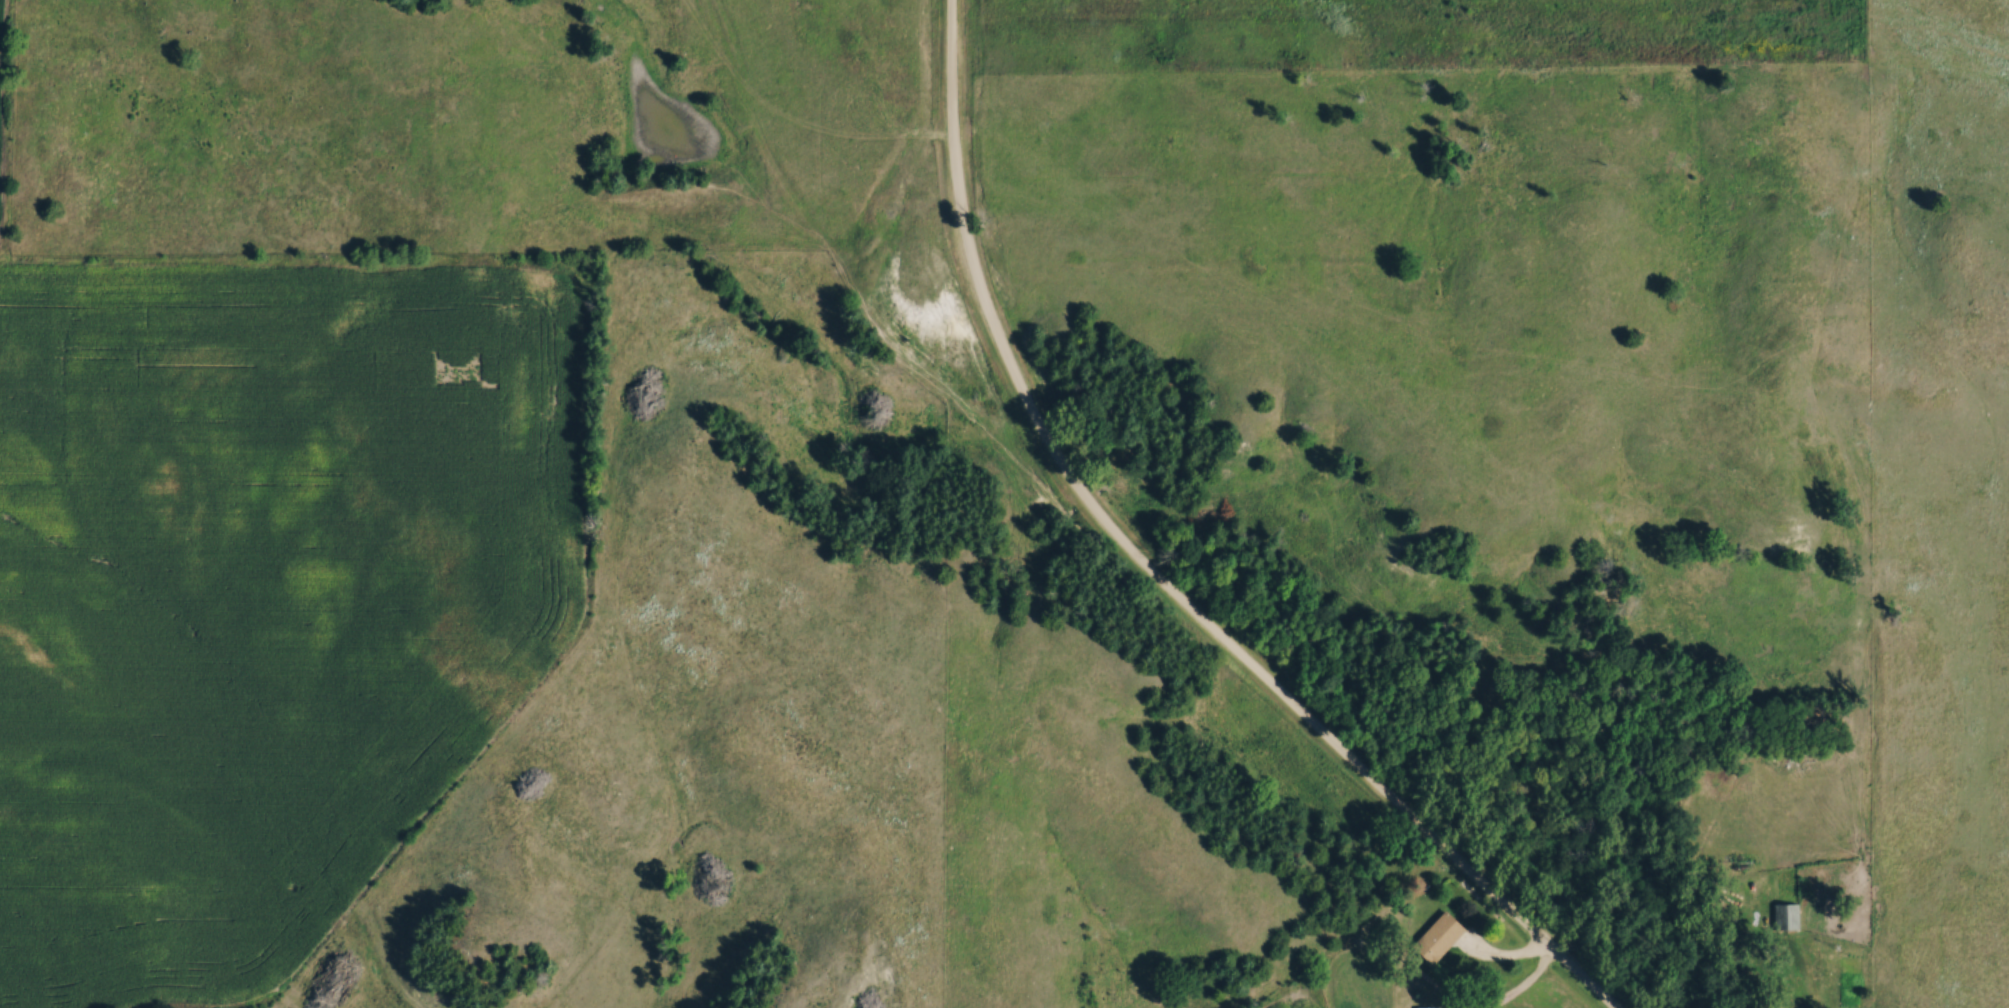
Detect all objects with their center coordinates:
road: (1152, 575)
building: (1788, 913)
building: (1437, 937)
road: (1796, 980)
building: (1427, 1007)

